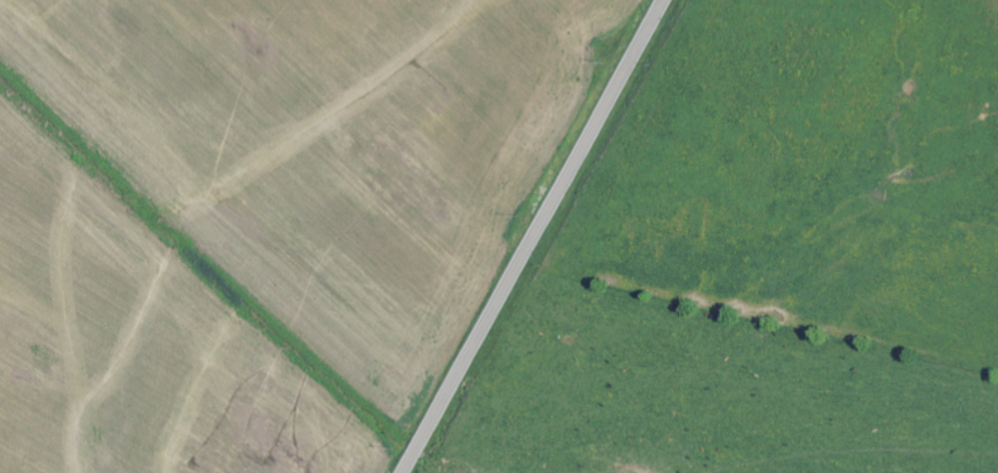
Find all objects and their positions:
road: (534, 236)

